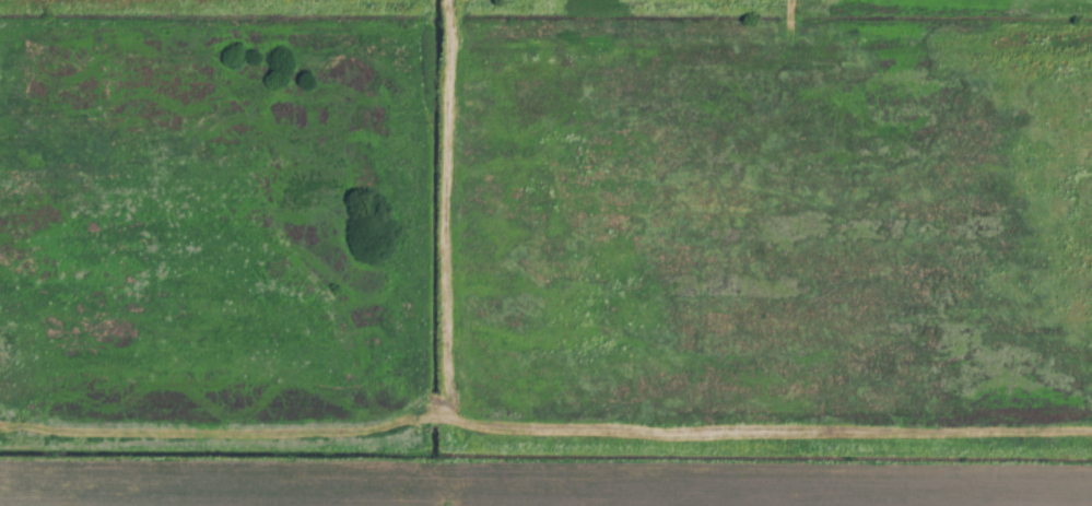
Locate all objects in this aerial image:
crop: (545, 252)

